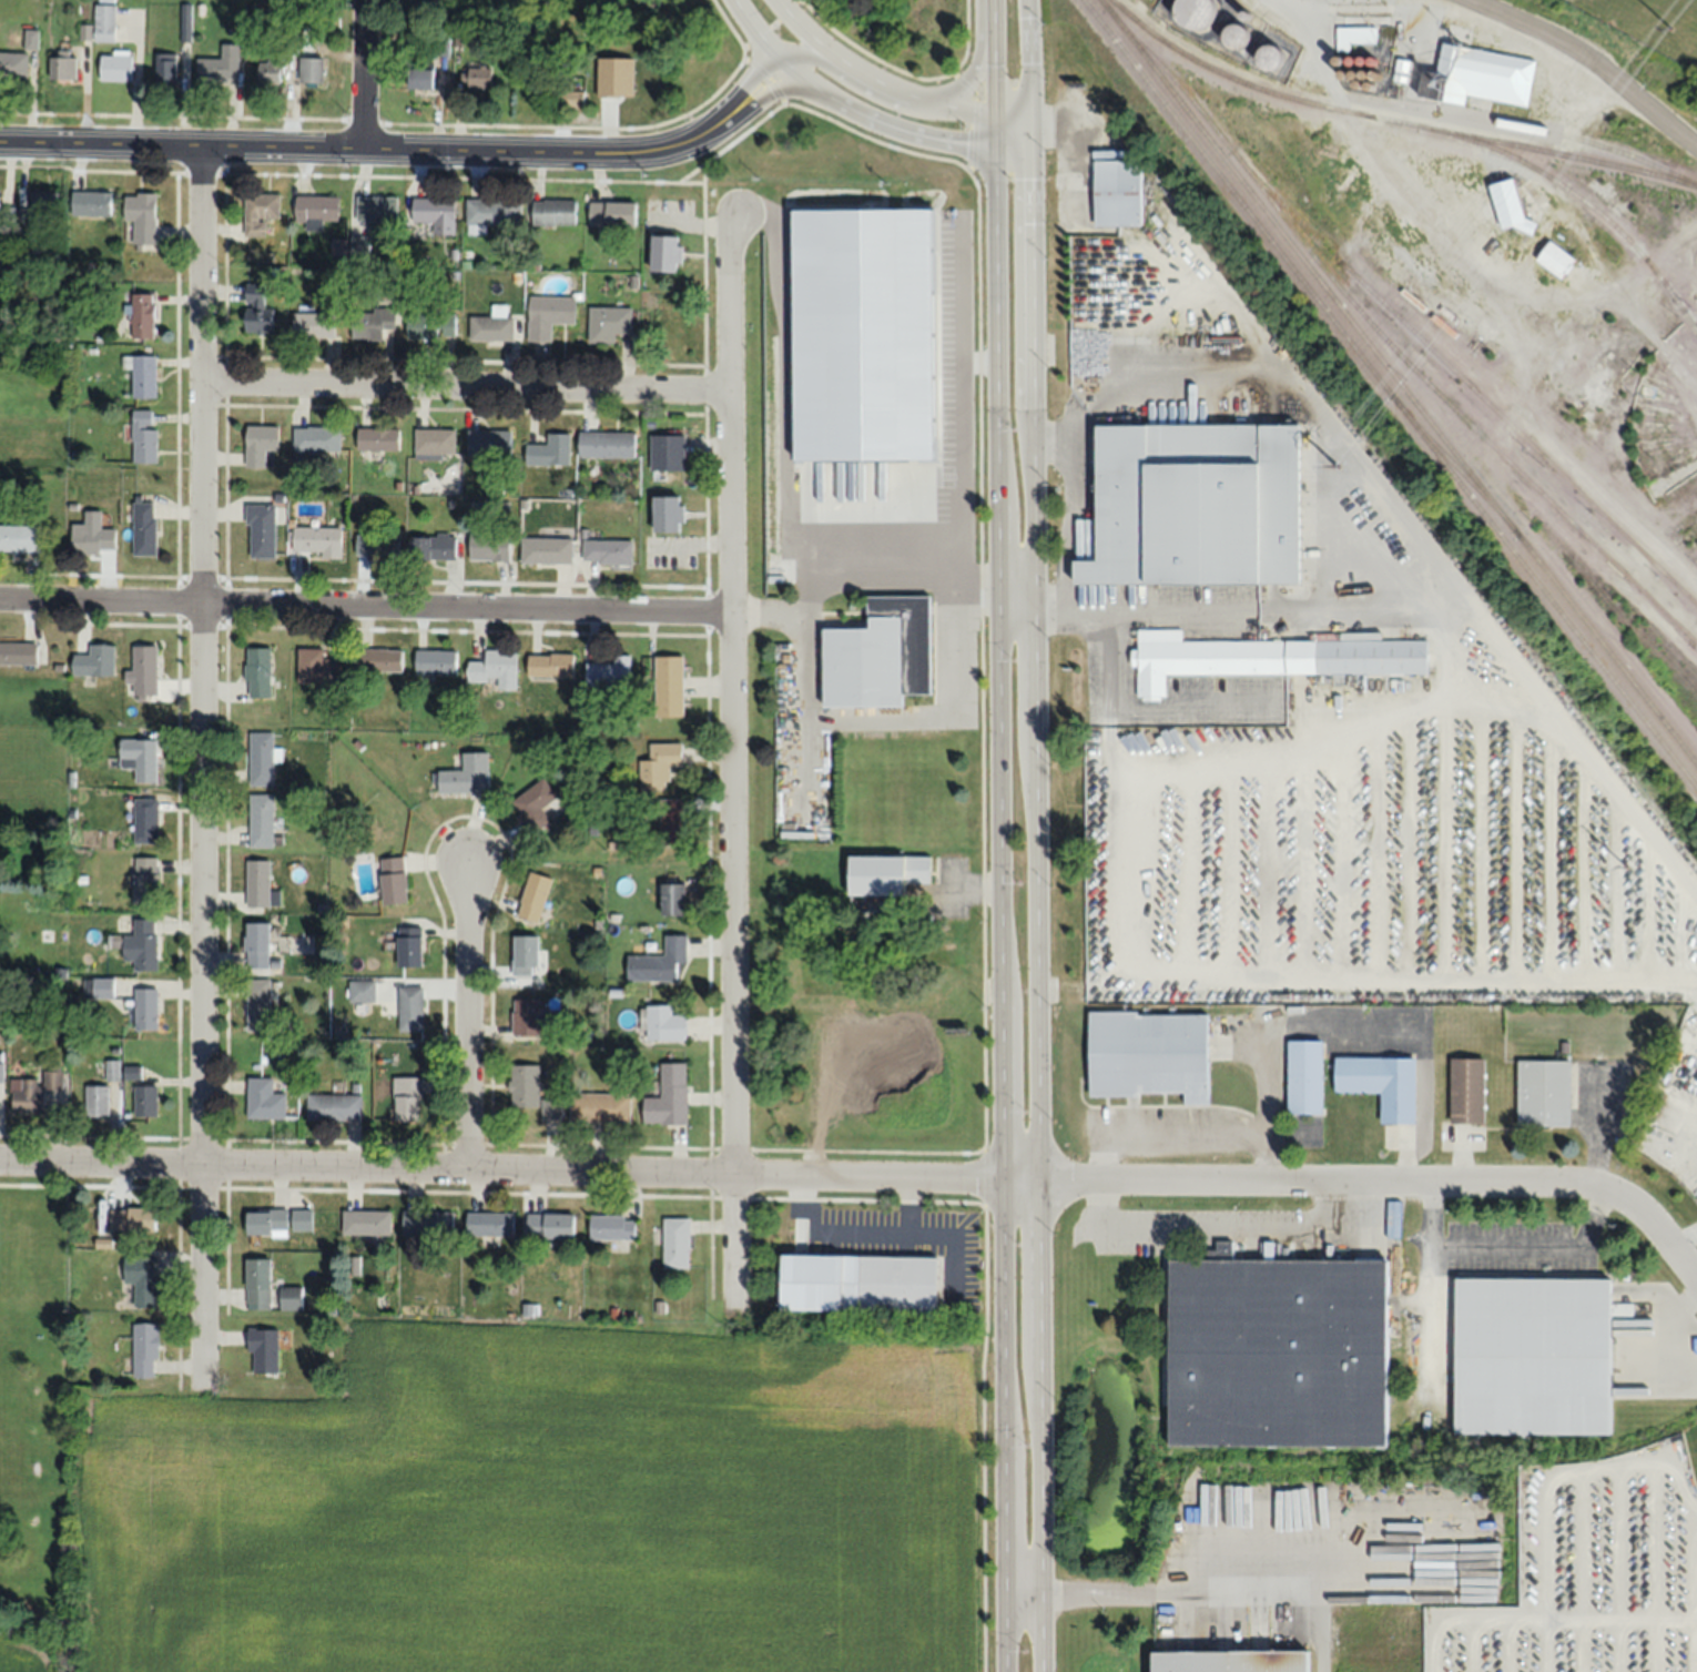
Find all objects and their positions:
road: (1364, 8)
building: (1196, 13)
building: (105, 22)
building: (186, 22)
road: (1531, 28)
road: (807, 30)
building: (466, 37)
road: (993, 54)
road: (809, 57)
road: (980, 62)
building: (63, 64)
building: (13, 65)
building: (118, 65)
building: (221, 65)
building: (166, 67)
building: (272, 68)
building: (313, 69)
road: (364, 72)
building: (423, 75)
building: (477, 78)
building: (626, 78)
building: (1478, 78)
road: (776, 89)
road: (913, 94)
building: (575, 97)
road: (1643, 102)
road: (1012, 110)
road: (862, 114)
railway: (1394, 118)
railway: (1530, 126)
road: (182, 146)
road: (587, 149)
road: (762, 166)
building: (1118, 192)
railway: (1578, 196)
building: (0, 199)
building: (45, 201)
building: (92, 202)
building: (1512, 206)
building: (378, 209)
building: (317, 210)
building: (495, 211)
building: (261, 212)
building: (555, 212)
building: (437, 213)
building: (613, 213)
building: (141, 217)
road: (1450, 241)
building: (668, 253)
building: (916, 254)
building: (964, 254)
building: (1557, 261)
building: (257, 308)
building: (144, 315)
building: (550, 315)
building: (376, 320)
building: (314, 324)
building: (610, 324)
building: (494, 325)
building: (433, 326)
road: (1514, 334)
railway: (1385, 338)
road: (1534, 374)
building: (144, 376)
railway: (1464, 378)
railway: (1399, 381)
road: (1303, 386)
road: (465, 393)
railway: (1390, 393)
building: (317, 438)
building: (378, 438)
building: (436, 444)
building: (490, 444)
building: (608, 444)
building: (146, 445)
building: (262, 446)
building: (551, 452)
building: (669, 453)
railway: (1452, 460)
road: (1073, 501)
building: (1197, 504)
building: (670, 515)
building: (145, 528)
building: (263, 530)
building: (93, 534)
building: (20, 538)
building: (318, 540)
building: (378, 546)
building: (490, 546)
building: (434, 547)
building: (547, 549)
building: (608, 551)
road: (1015, 589)
road: (365, 605)
road: (1334, 614)
road: (1132, 615)
building: (19, 652)
building: (881, 655)
building: (1269, 658)
building: (96, 660)
building: (378, 660)
building: (437, 662)
building: (551, 665)
building: (318, 666)
building: (495, 666)
building: (143, 671)
building: (260, 671)
building: (609, 673)
building: (669, 686)
road: (1155, 705)
building: (141, 758)
building: (264, 758)
road: (732, 758)
building: (660, 766)
road: (201, 767)
road: (1591, 770)
building: (468, 774)
building: (535, 805)
building: (670, 809)
building: (146, 820)
building: (263, 820)
road: (1035, 835)
building: (888, 873)
building: (146, 879)
building: (395, 879)
building: (261, 884)
road: (999, 890)
building: (536, 896)
building: (675, 899)
building: (1325, 938)
building: (143, 944)
building: (258, 945)
building: (410, 945)
building: (527, 955)
building: (660, 961)
road: (1267, 969)
road: (1485, 979)
building: (99, 987)
building: (364, 991)
building: (260, 1005)
building: (411, 1007)
building: (146, 1009)
road: (466, 1015)
building: (527, 1017)
building: (664, 1023)
building: (1149, 1053)
building: (2, 1066)
building: (113, 1070)
building: (1305, 1078)
building: (1382, 1084)
building: (1469, 1091)
building: (34, 1092)
building: (532, 1092)
building: (1545, 1093)
building: (670, 1096)
building: (406, 1098)
building: (98, 1100)
building: (146, 1100)
building: (265, 1100)
road: (1264, 1100)
building: (334, 1107)
building: (601, 1108)
road: (1162, 1135)
road: (500, 1166)
road: (1369, 1177)
road: (460, 1192)
road: (177, 1197)
building: (134, 1219)
building: (303, 1219)
building: (267, 1222)
building: (367, 1222)
building: (429, 1223)
building: (491, 1225)
building: (551, 1226)
building: (613, 1227)
road: (1207, 1230)
building: (678, 1243)
road: (1504, 1245)
building: (1271, 1252)
building: (143, 1279)
building: (260, 1283)
building: (898, 1285)
building: (293, 1297)
road: (986, 1323)
road: (1685, 1330)
building: (148, 1349)
building: (266, 1349)
building: (1276, 1357)
building: (1533, 1359)
railway: (1435, 1458)
crop: (545, 1508)
road: (1216, 1591)
building: (1227, 1663)

